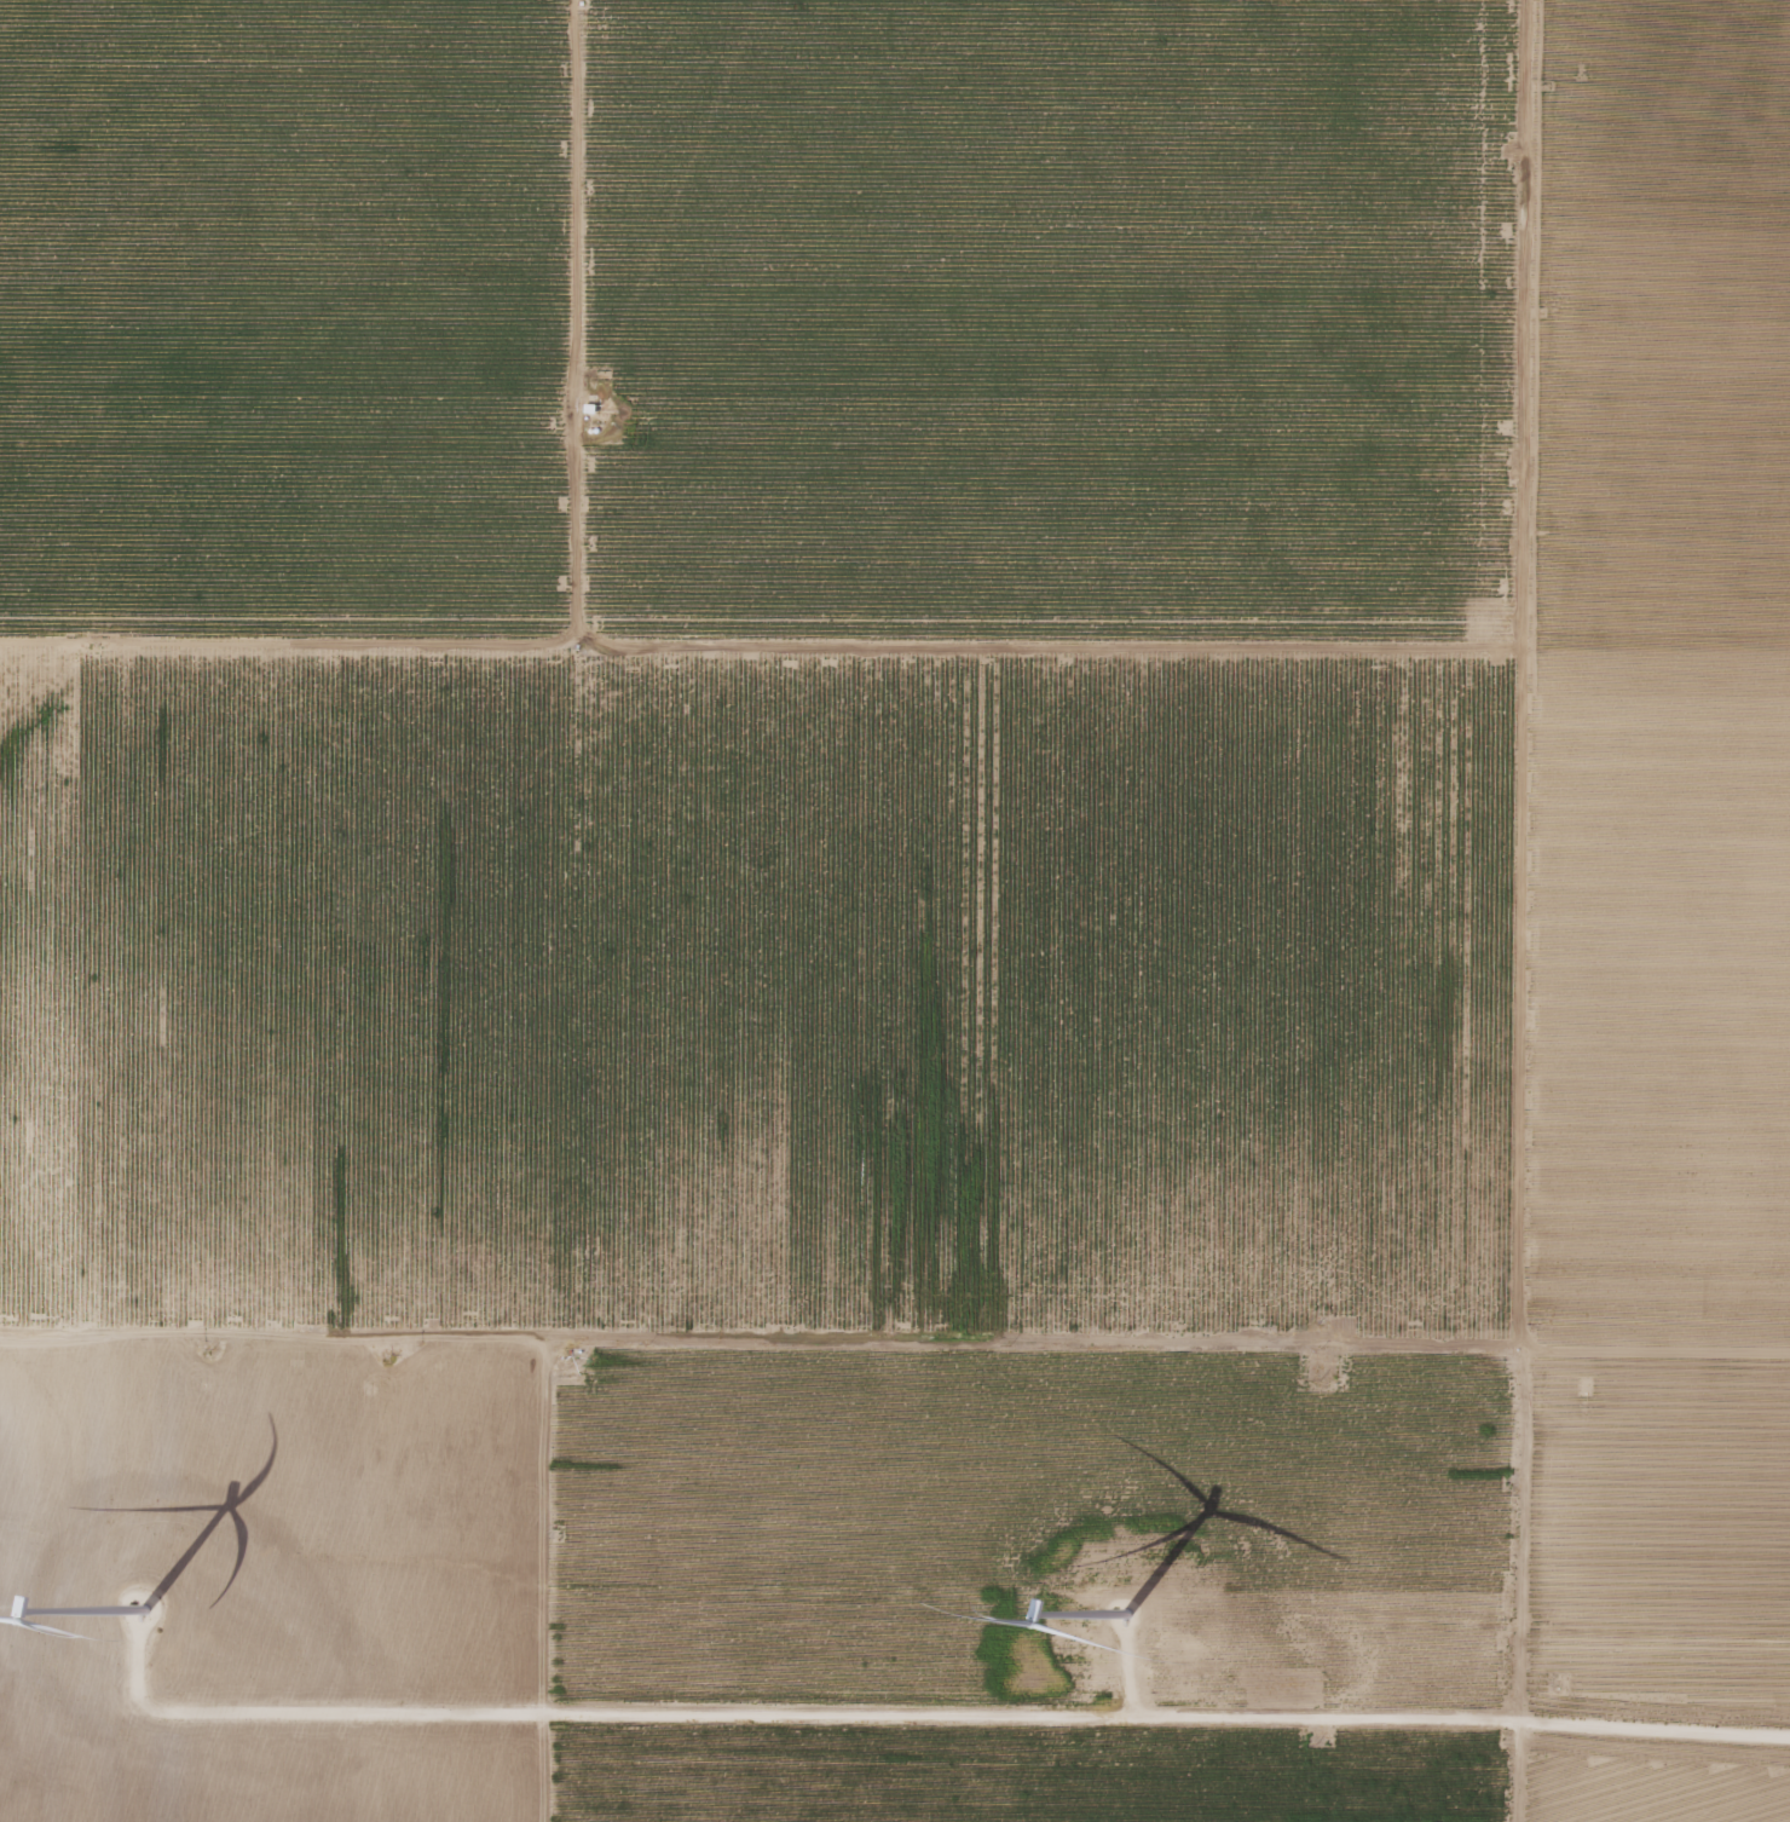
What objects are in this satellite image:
wind turbine: (1132, 1605)
wind turbine: (150, 1639)

